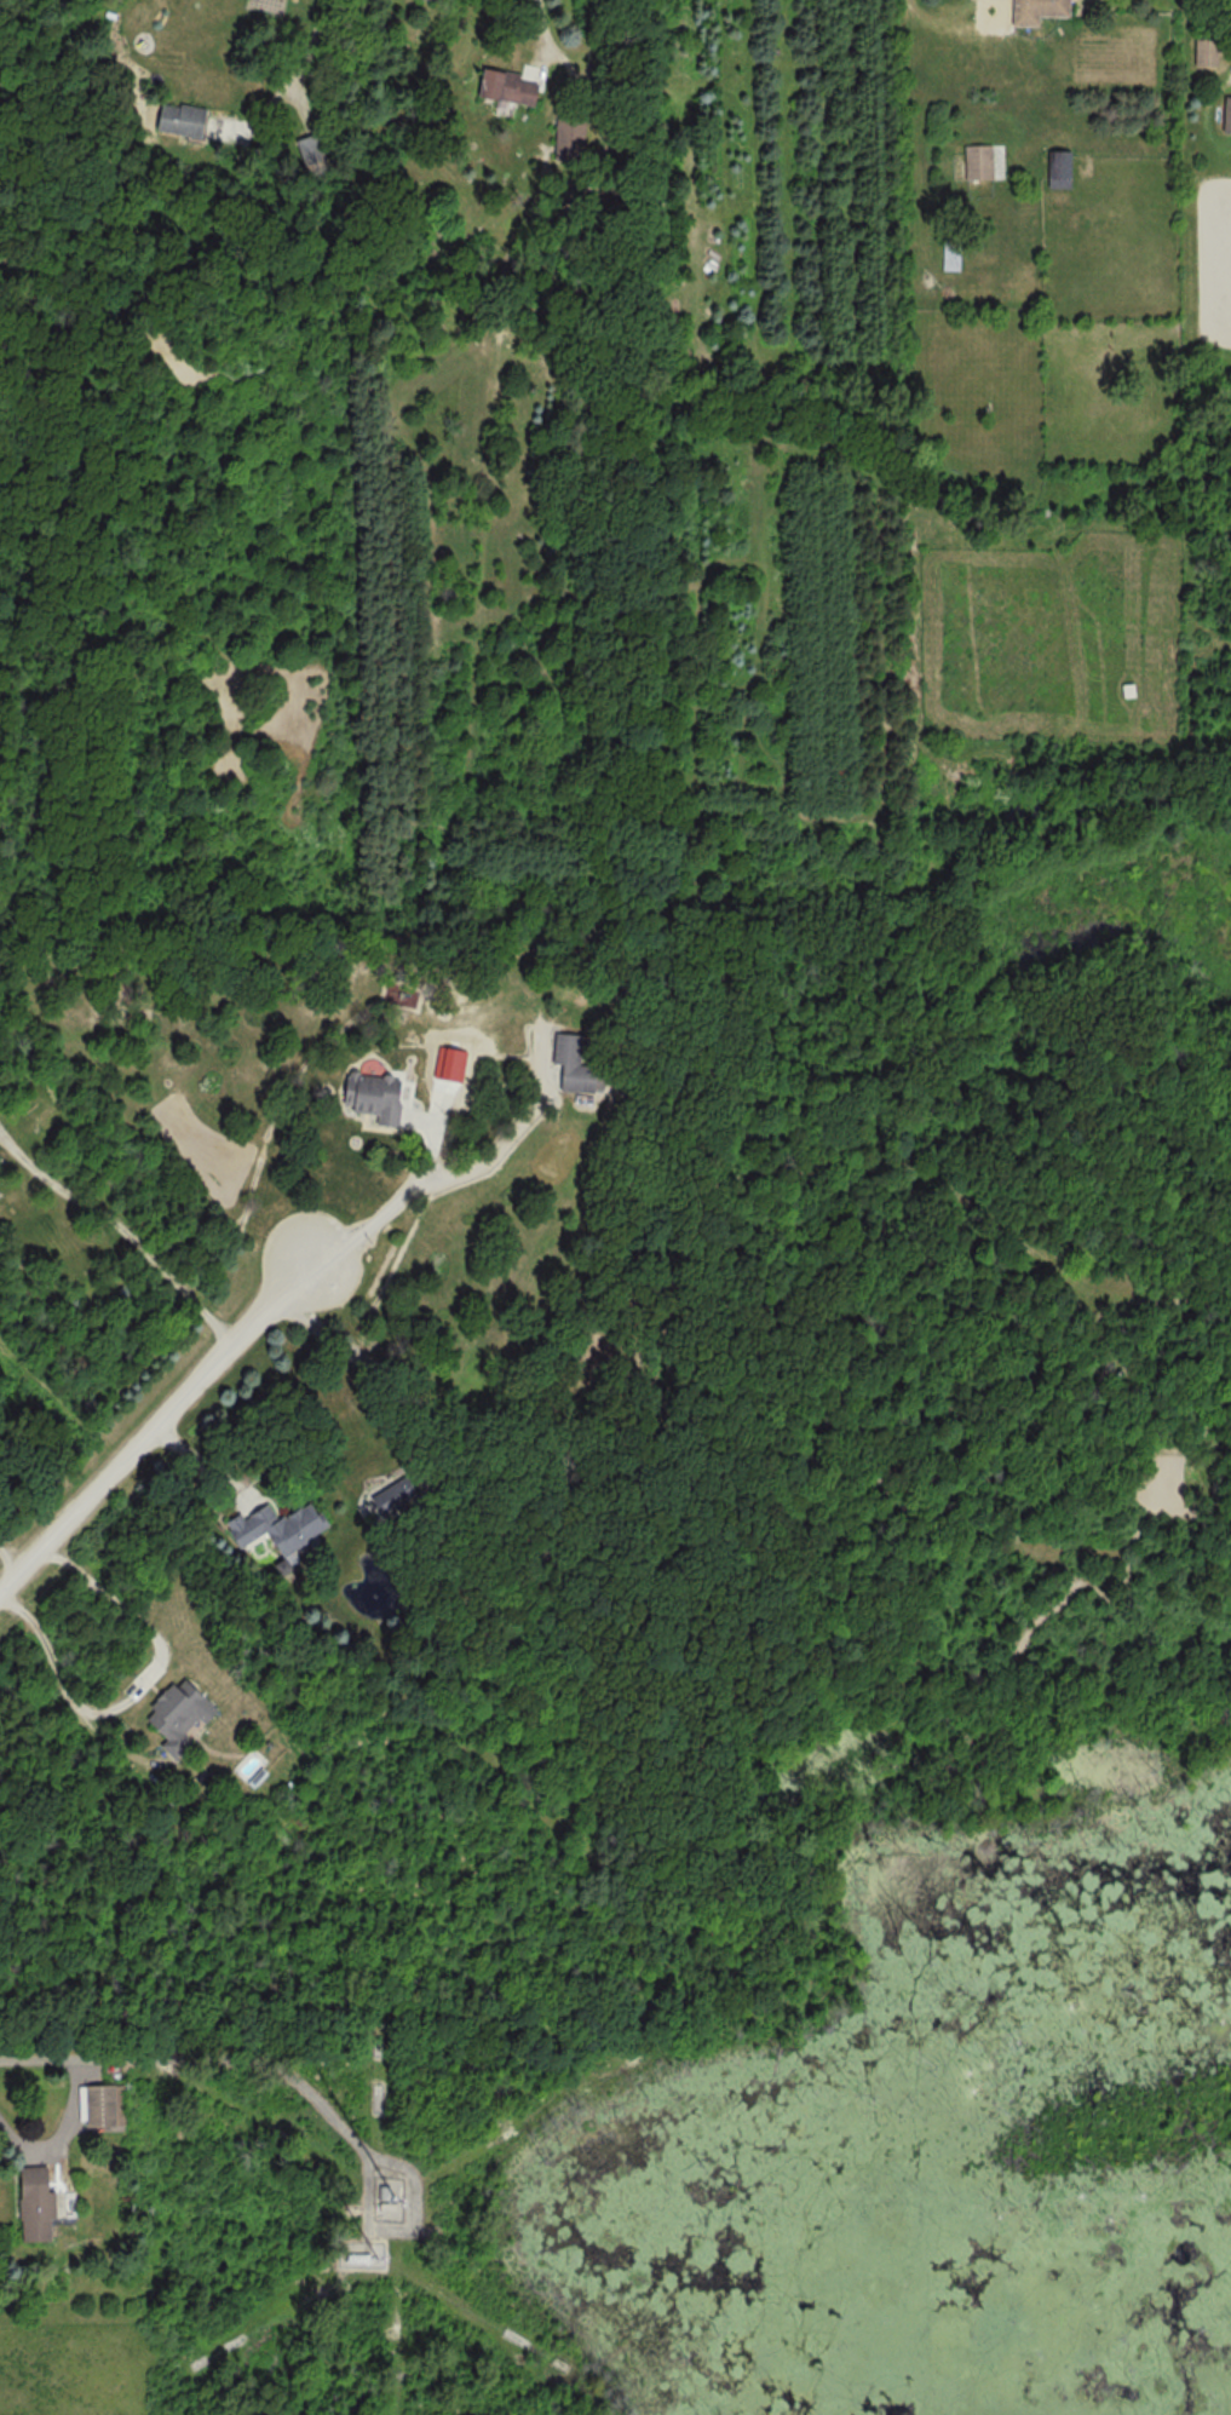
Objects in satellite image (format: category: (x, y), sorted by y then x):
building: (1037, 11)
road: (543, 25)
building: (1208, 51)
road: (297, 67)
building: (508, 86)
building: (1227, 115)
building: (180, 120)
building: (570, 138)
building: (310, 154)
building: (978, 162)
building: (1059, 168)
building: (950, 251)
building: (574, 1063)
building: (374, 1094)
road: (389, 1203)
road: (121, 1230)
road: (156, 1420)
building: (393, 1495)
building: (278, 1526)
road: (6, 1560)
road: (134, 1685)
building: (178, 1714)
road: (206, 2055)
building: (102, 2106)
road: (59, 2129)
building: (36, 2204)
building: (358, 2258)

